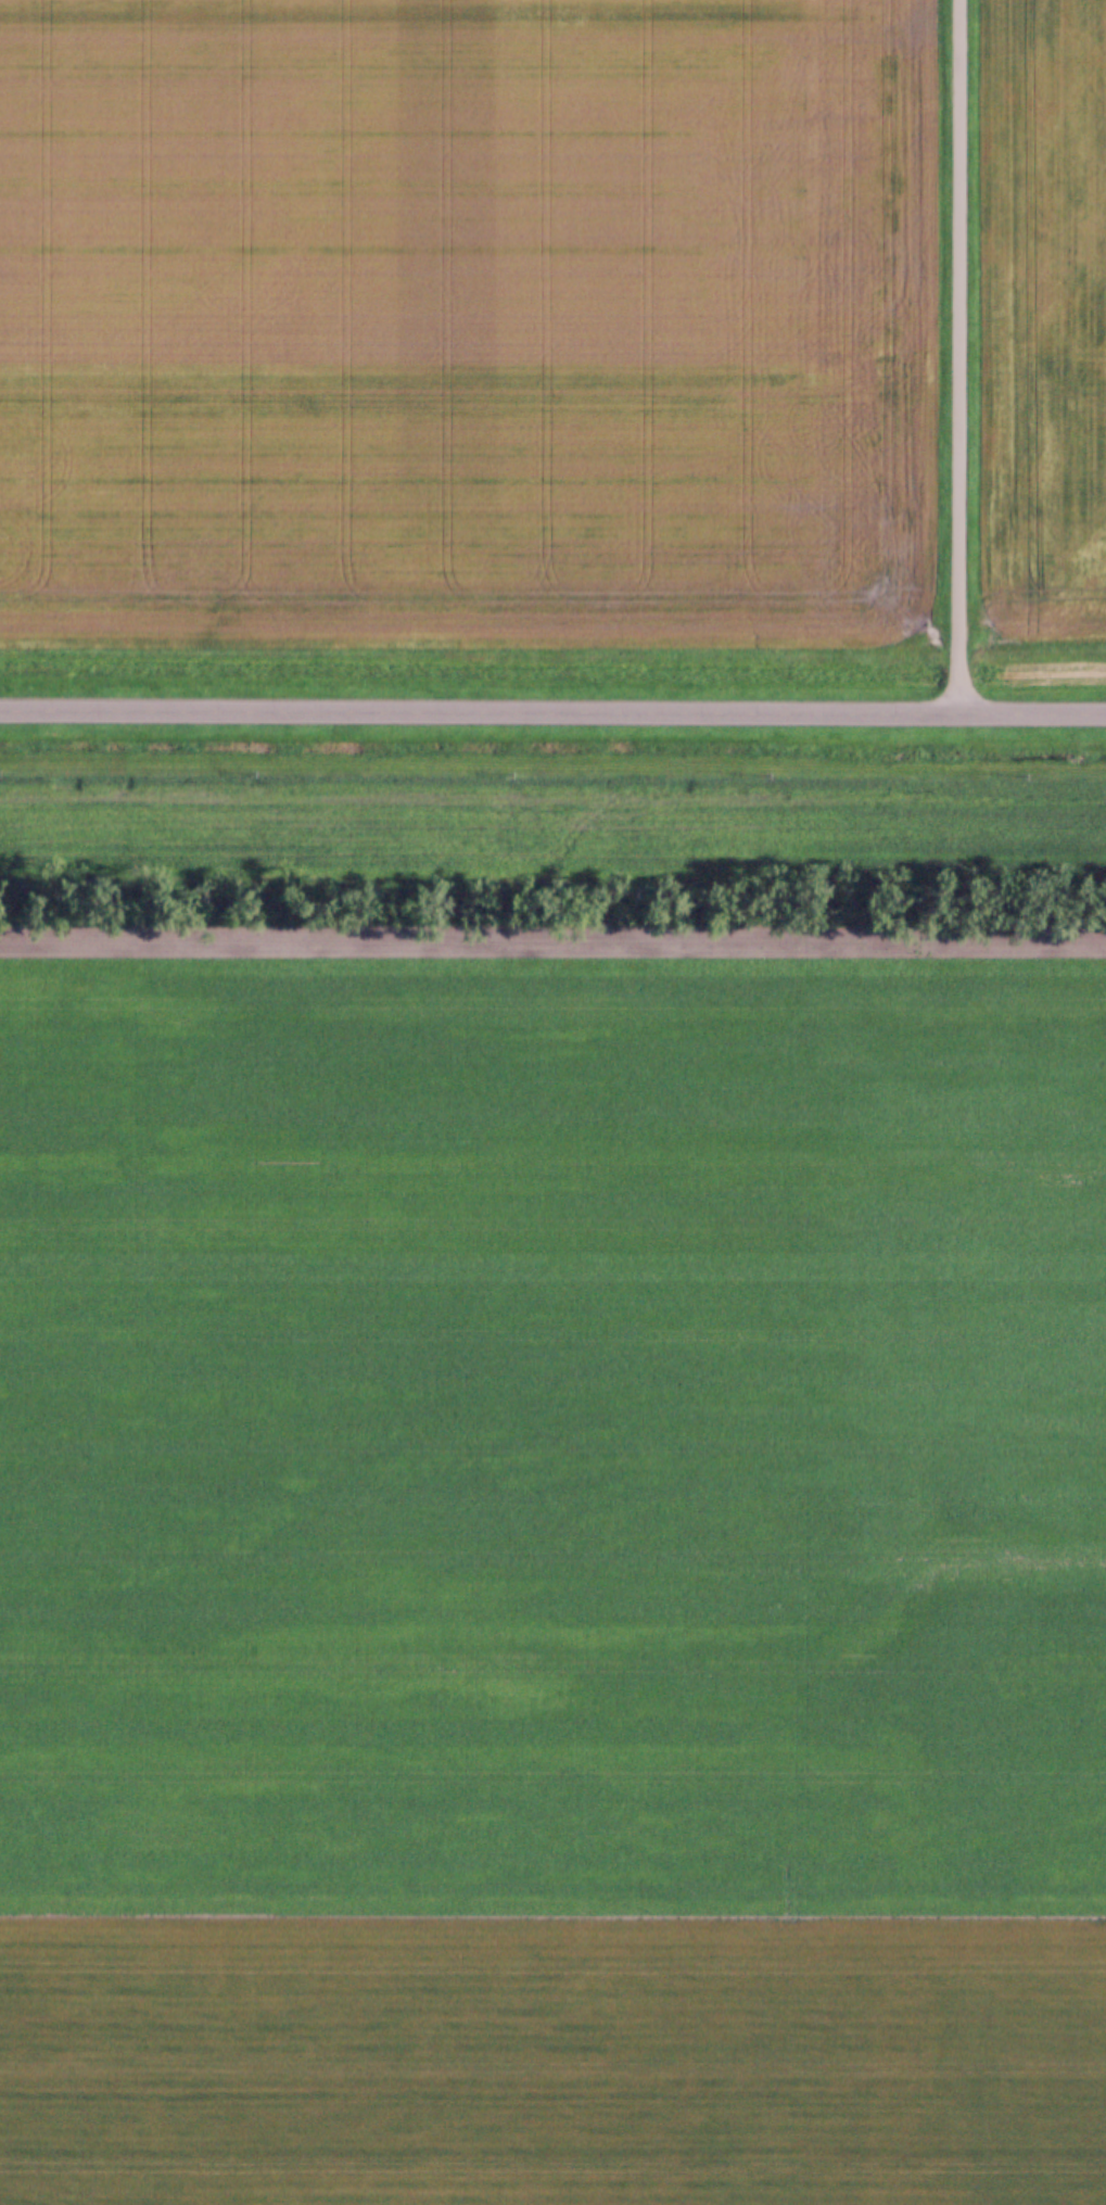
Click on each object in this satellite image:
road: (956, 357)
road: (552, 713)

